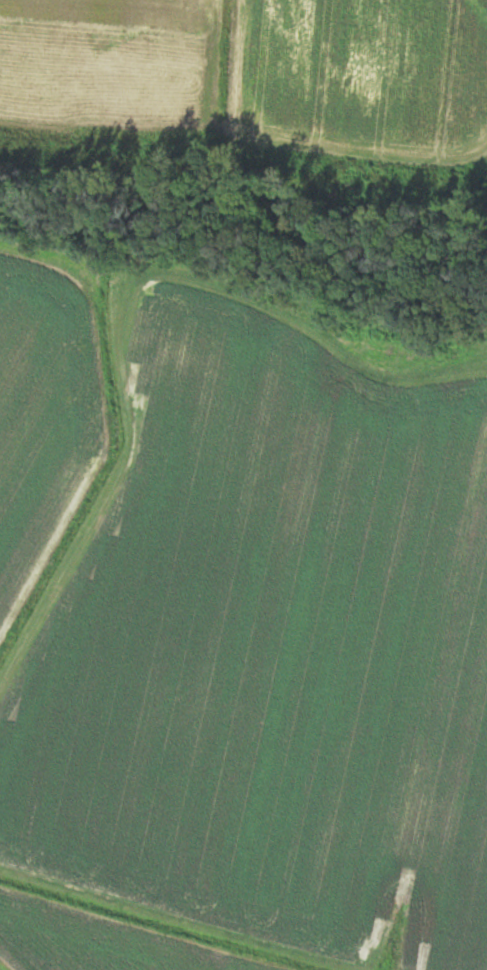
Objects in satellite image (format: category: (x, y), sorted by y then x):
road: (213, 60)
road: (33, 623)

